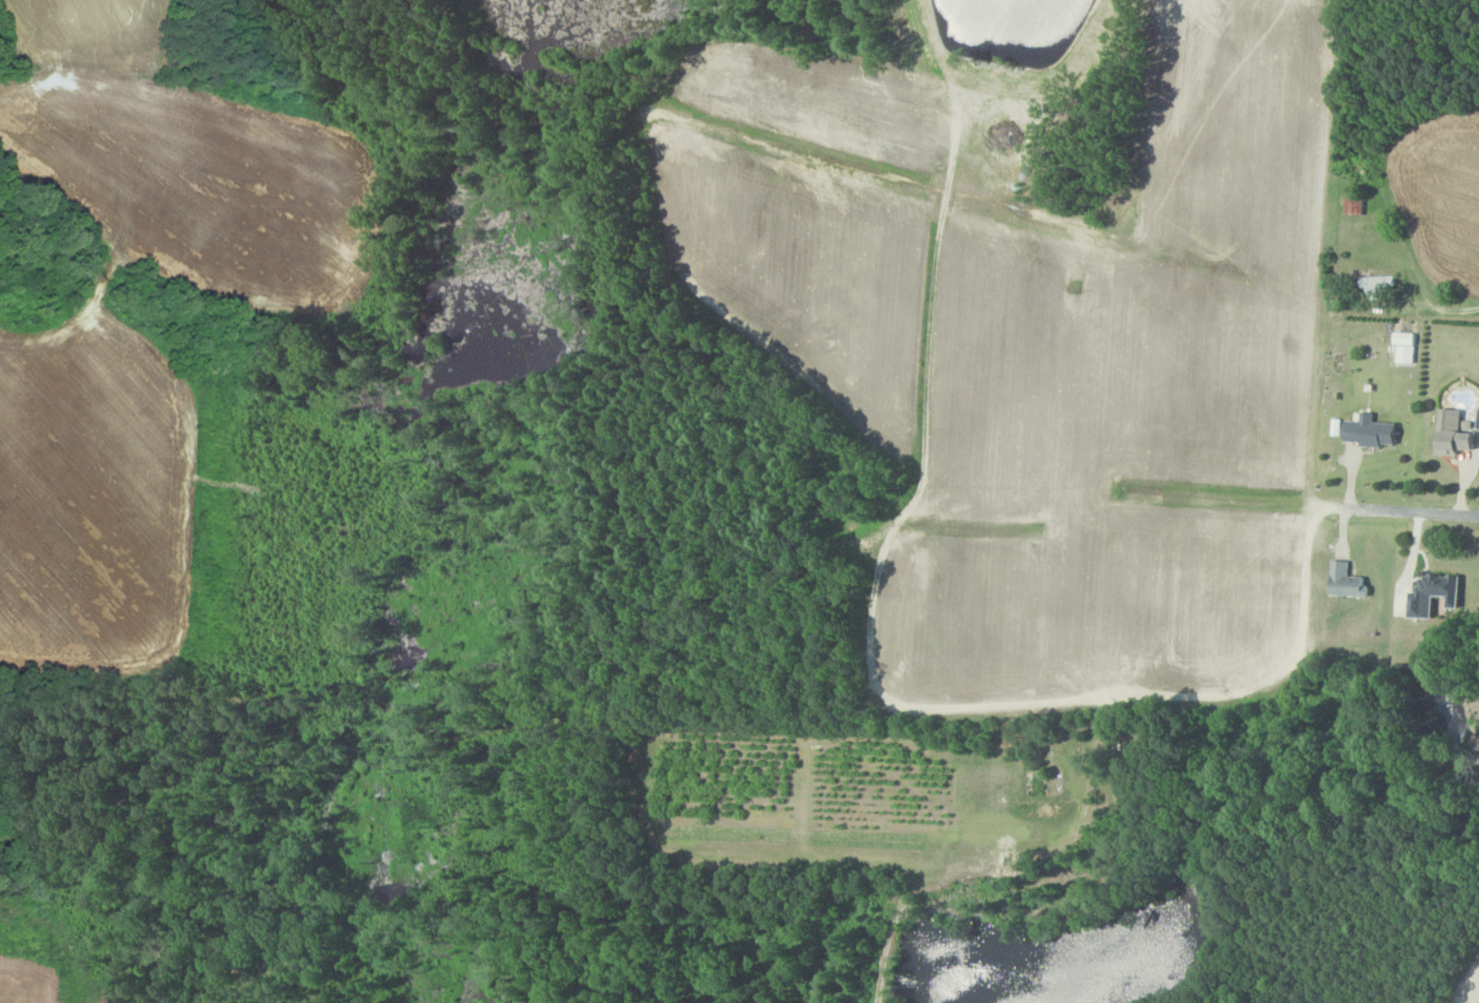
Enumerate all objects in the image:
building: (1357, 203)
building: (1381, 285)
road: (1440, 305)
building: (1407, 347)
building: (1373, 431)
building: (1455, 433)
road: (1407, 511)
building: (1348, 581)
building: (1436, 593)

